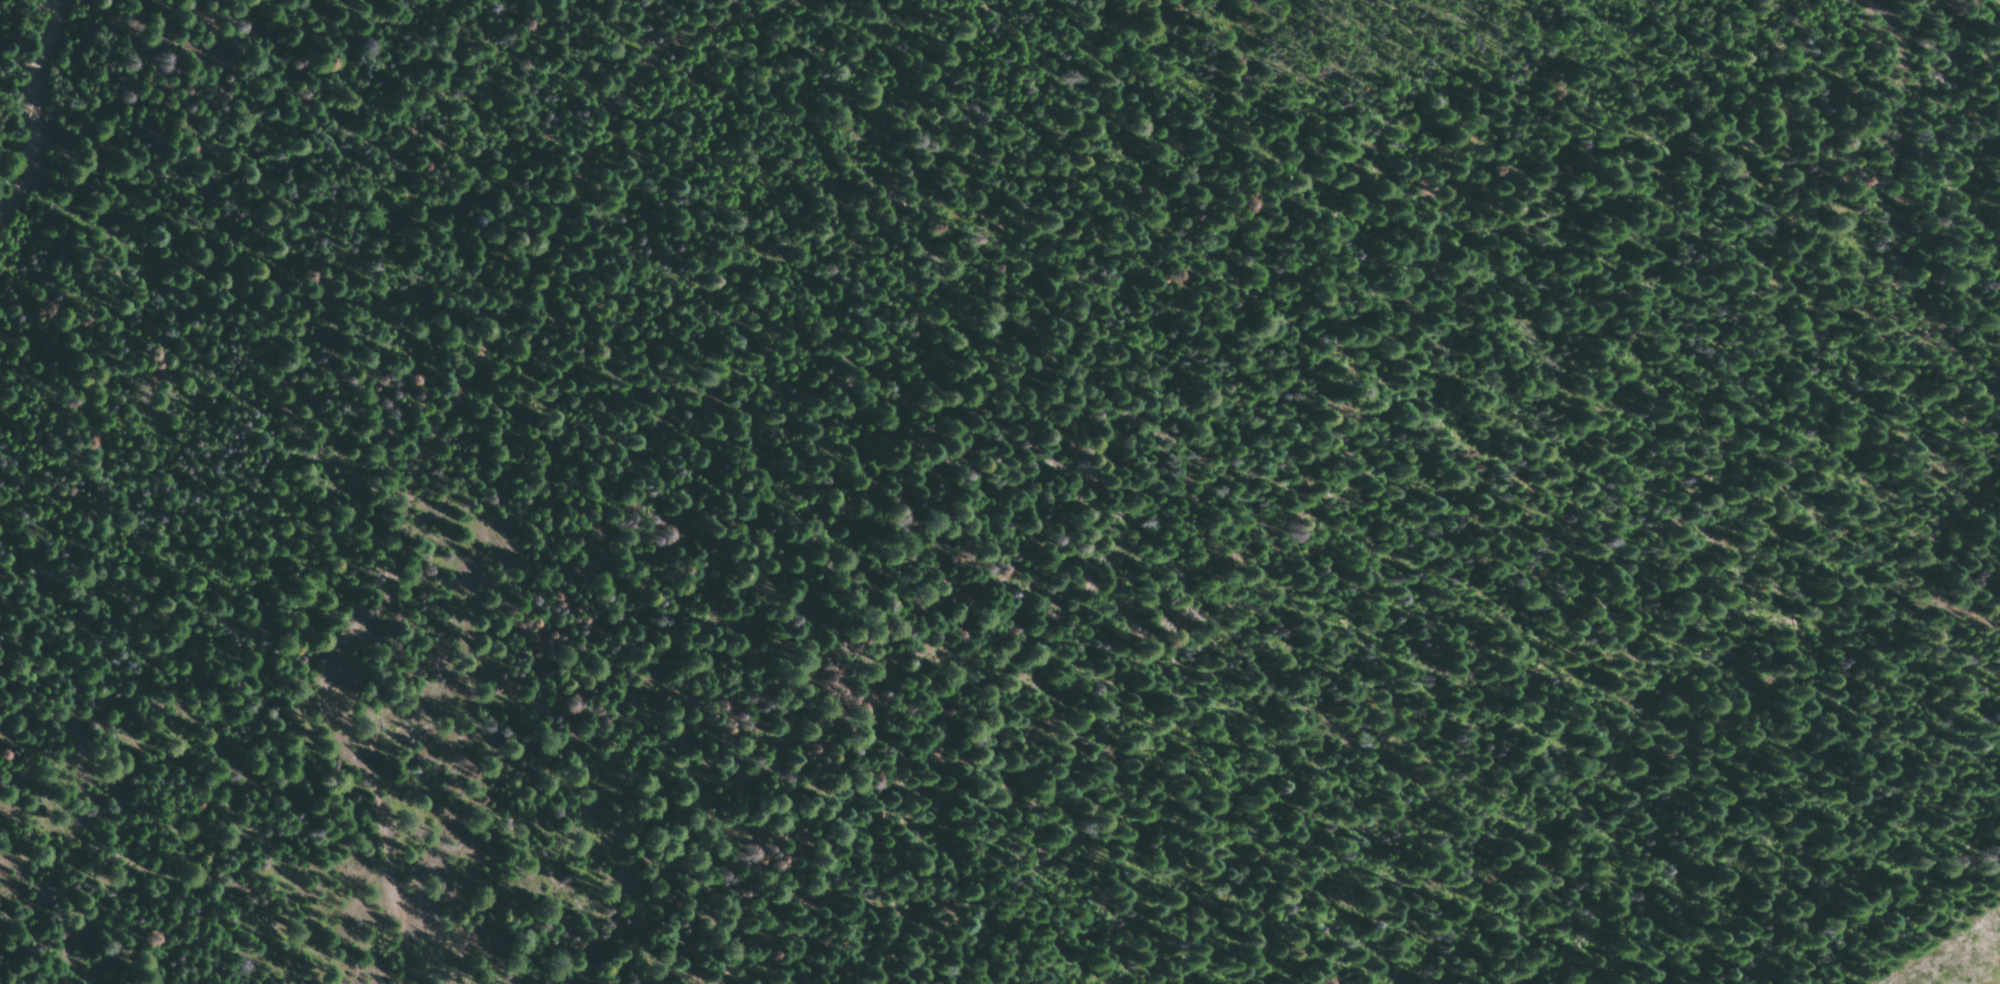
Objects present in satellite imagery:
road: (51, 145)
road: (1890, 330)
road: (463, 445)

